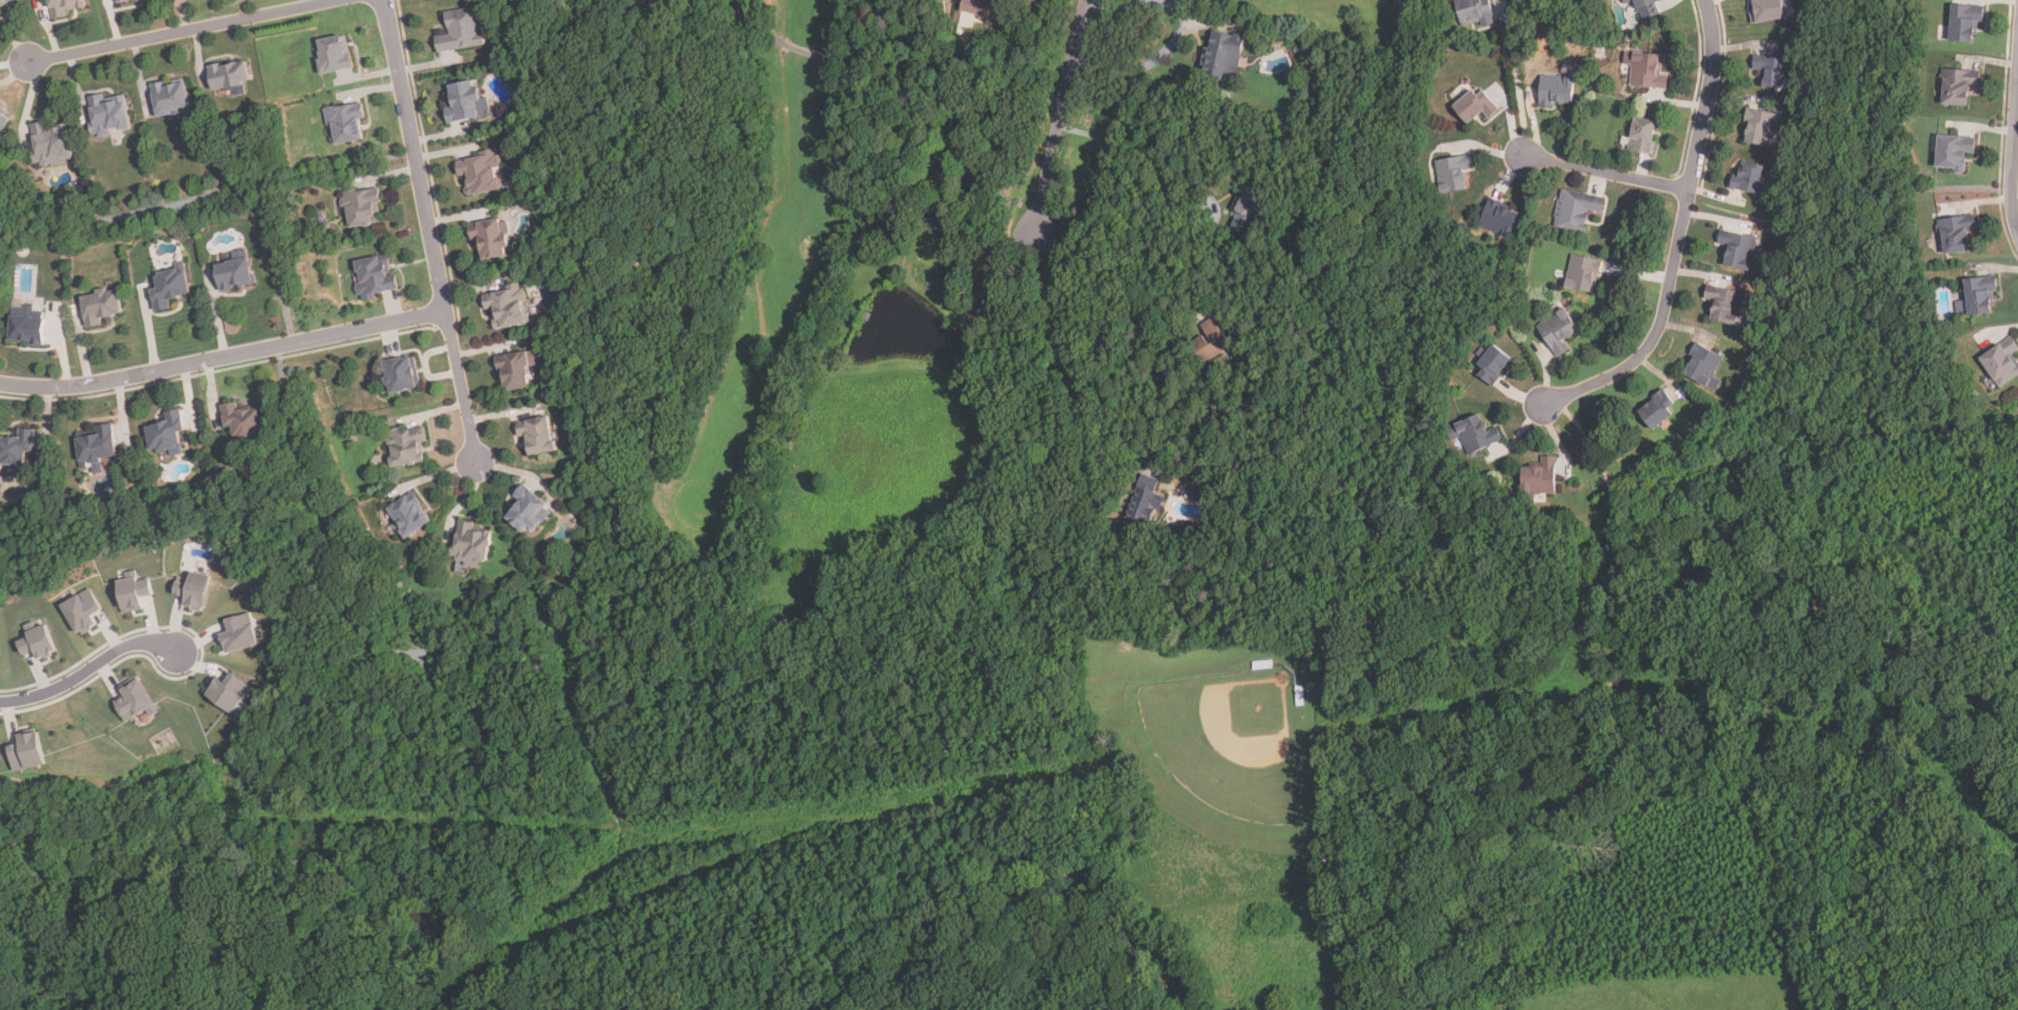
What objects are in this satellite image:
building: (125, 1)
building: (656, 2)
building: (6, 3)
building: (63, 7)
building: (987, 8)
road: (247, 9)
building: (1646, 9)
building: (1475, 12)
building: (1766, 13)
building: (1965, 22)
road: (187, 30)
building: (461, 30)
road: (1186, 30)
building: (333, 55)
building: (1222, 55)
road: (840, 56)
road: (1017, 65)
building: (1773, 70)
building: (1648, 71)
building: (228, 76)
road: (1518, 82)
building: (1958, 86)
building: (1557, 90)
building: (169, 98)
building: (461, 101)
building: (1475, 106)
building: (109, 115)
road: (1060, 116)
building: (3, 118)
building: (344, 124)
building: (1760, 128)
building: (956, 135)
building: (1643, 135)
building: (50, 144)
road: (1129, 145)
building: (1954, 152)
road: (2012, 155)
road: (1606, 171)
building: (1453, 173)
building: (480, 174)
building: (1748, 177)
road: (263, 188)
building: (1249, 205)
building: (362, 208)
building: (1576, 210)
road: (131, 214)
building: (1499, 219)
road: (950, 228)
road: (428, 230)
road: (1679, 234)
building: (1956, 234)
road: (1134, 239)
building: (489, 240)
building: (1737, 249)
building: (1582, 274)
building: (233, 275)
building: (374, 277)
building: (168, 287)
building: (1979, 295)
building: (1726, 306)
building: (99, 307)
building: (507, 307)
building: (974, 314)
building: (25, 331)
building: (1557, 331)
building: (1218, 338)
road: (1062, 352)
road: (223, 358)
building: (2001, 362)
building: (1493, 364)
building: (1703, 367)
building: (515, 371)
building: (400, 375)
building: (1657, 410)
building: (242, 419)
building: (165, 431)
building: (1474, 435)
building: (536, 437)
building: (96, 443)
building: (406, 446)
building: (16, 448)
building: (1540, 477)
building: (1197, 493)
building: (1145, 502)
building: (526, 510)
building: (406, 513)
river: (1706, 523)
building: (471, 543)
river: (1613, 574)
building: (192, 590)
building: (133, 591)
building: (81, 611)
road: (533, 621)
building: (238, 633)
river: (1857, 635)
building: (38, 641)
road: (90, 669)
building: (227, 692)
building: (135, 701)
river: (1607, 707)
building: (145, 718)
building: (27, 751)
river: (297, 837)
river: (1488, 853)
river: (1077, 868)
river: (955, 897)
river: (1121, 937)

